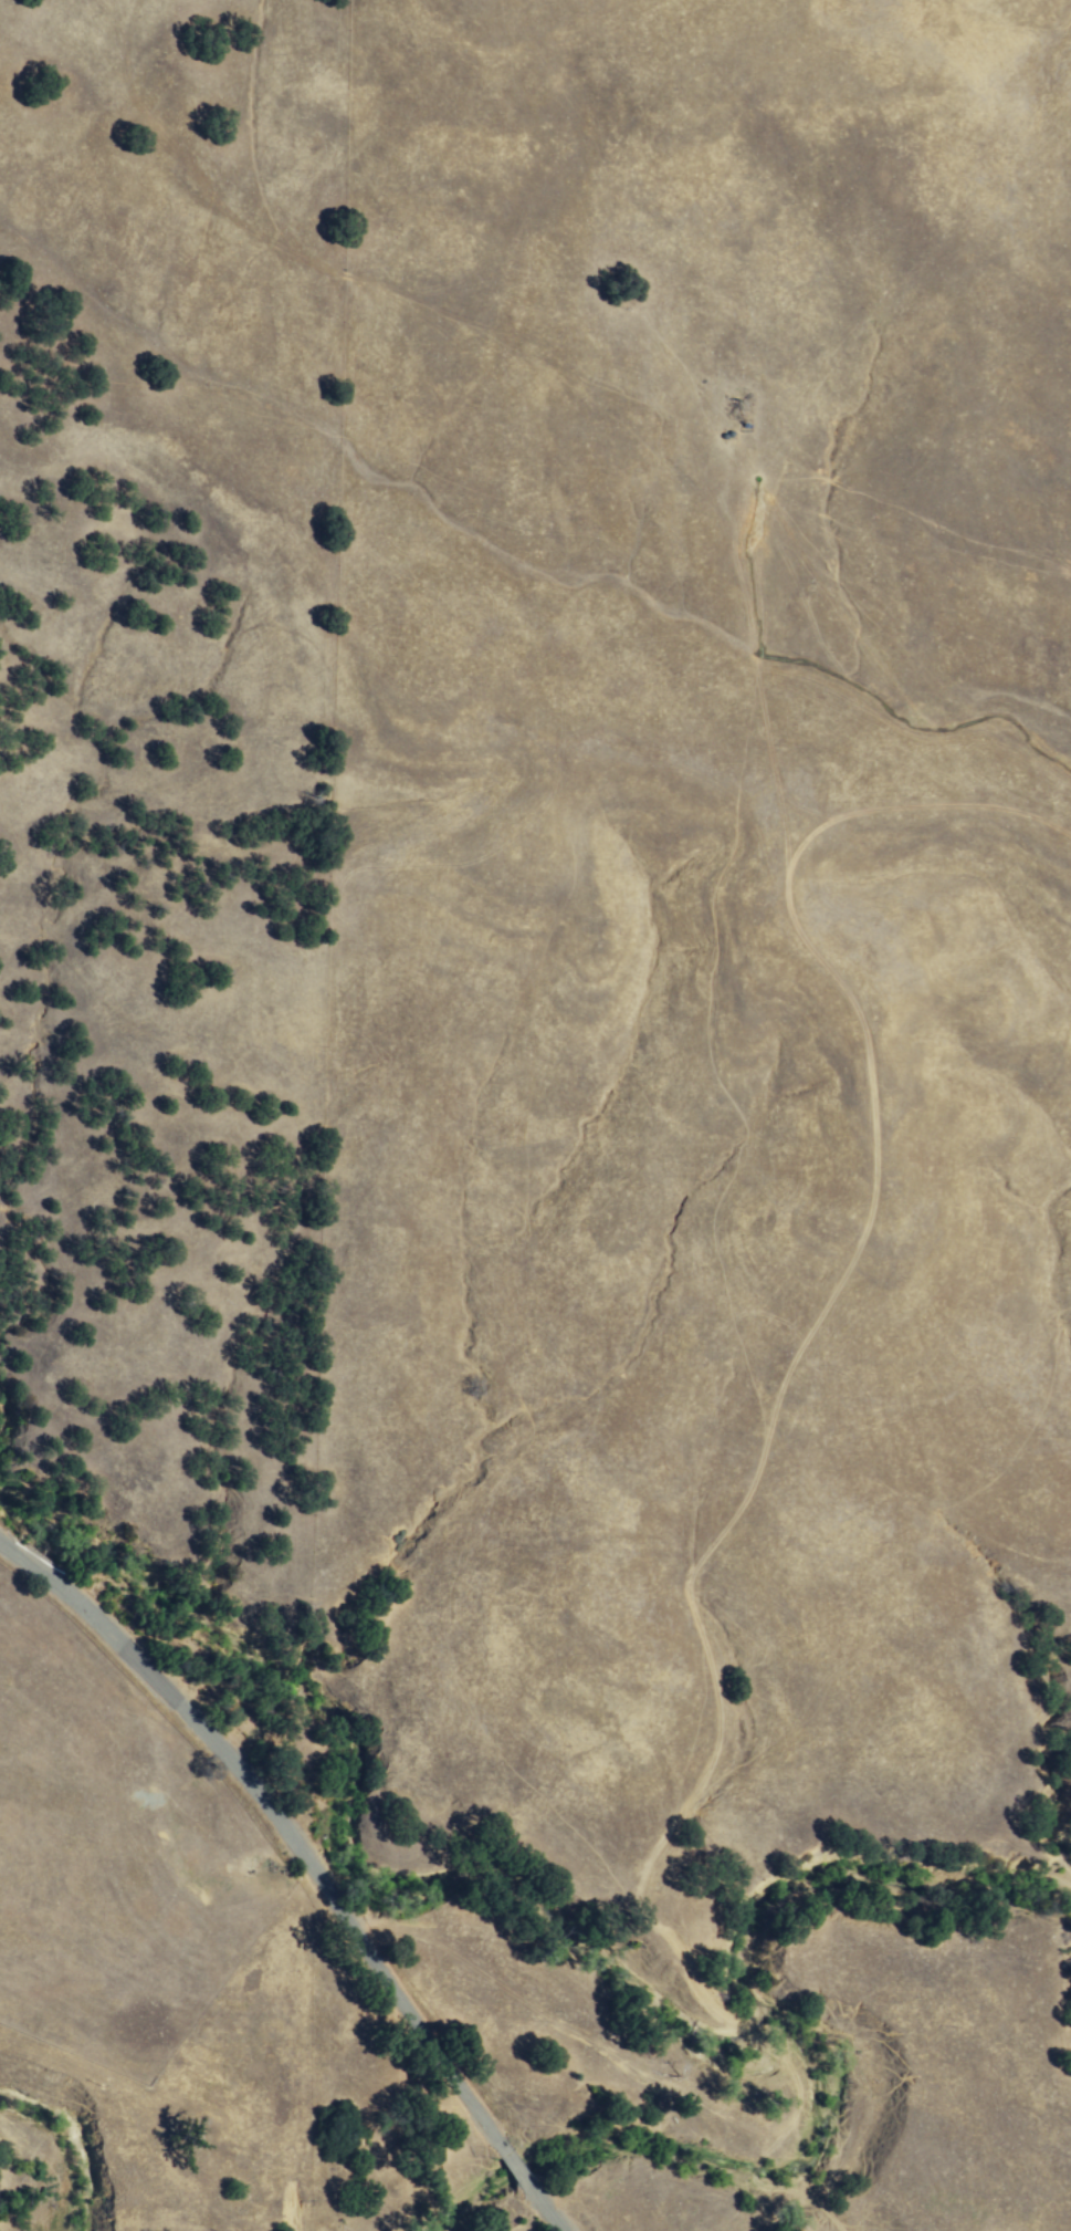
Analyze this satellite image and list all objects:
road: (967, 806)
road: (277, 1815)
crop: (114, 1853)
river: (532, 1907)
road: (517, 2164)
road: (550, 2210)

